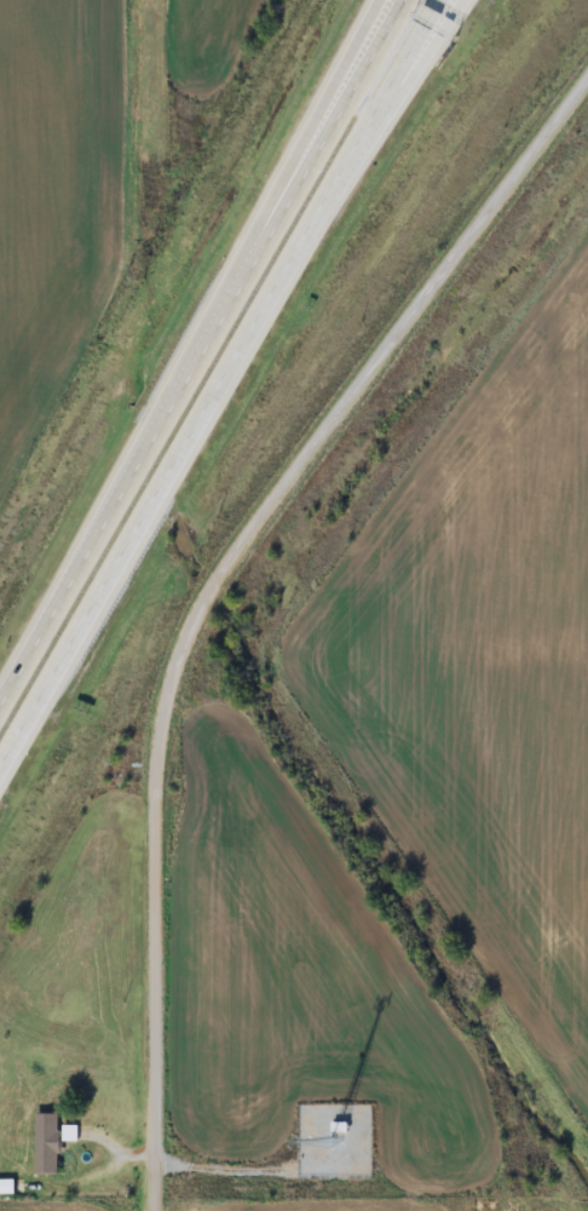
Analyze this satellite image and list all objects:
road: (415, 38)
road: (422, 38)
road: (325, 111)
road: (336, 111)
road: (196, 420)
road: (136, 461)
road: (202, 586)
building: (73, 1126)
building: (69, 1135)
building: (48, 1136)
building: (8, 1181)
building: (5, 1188)

